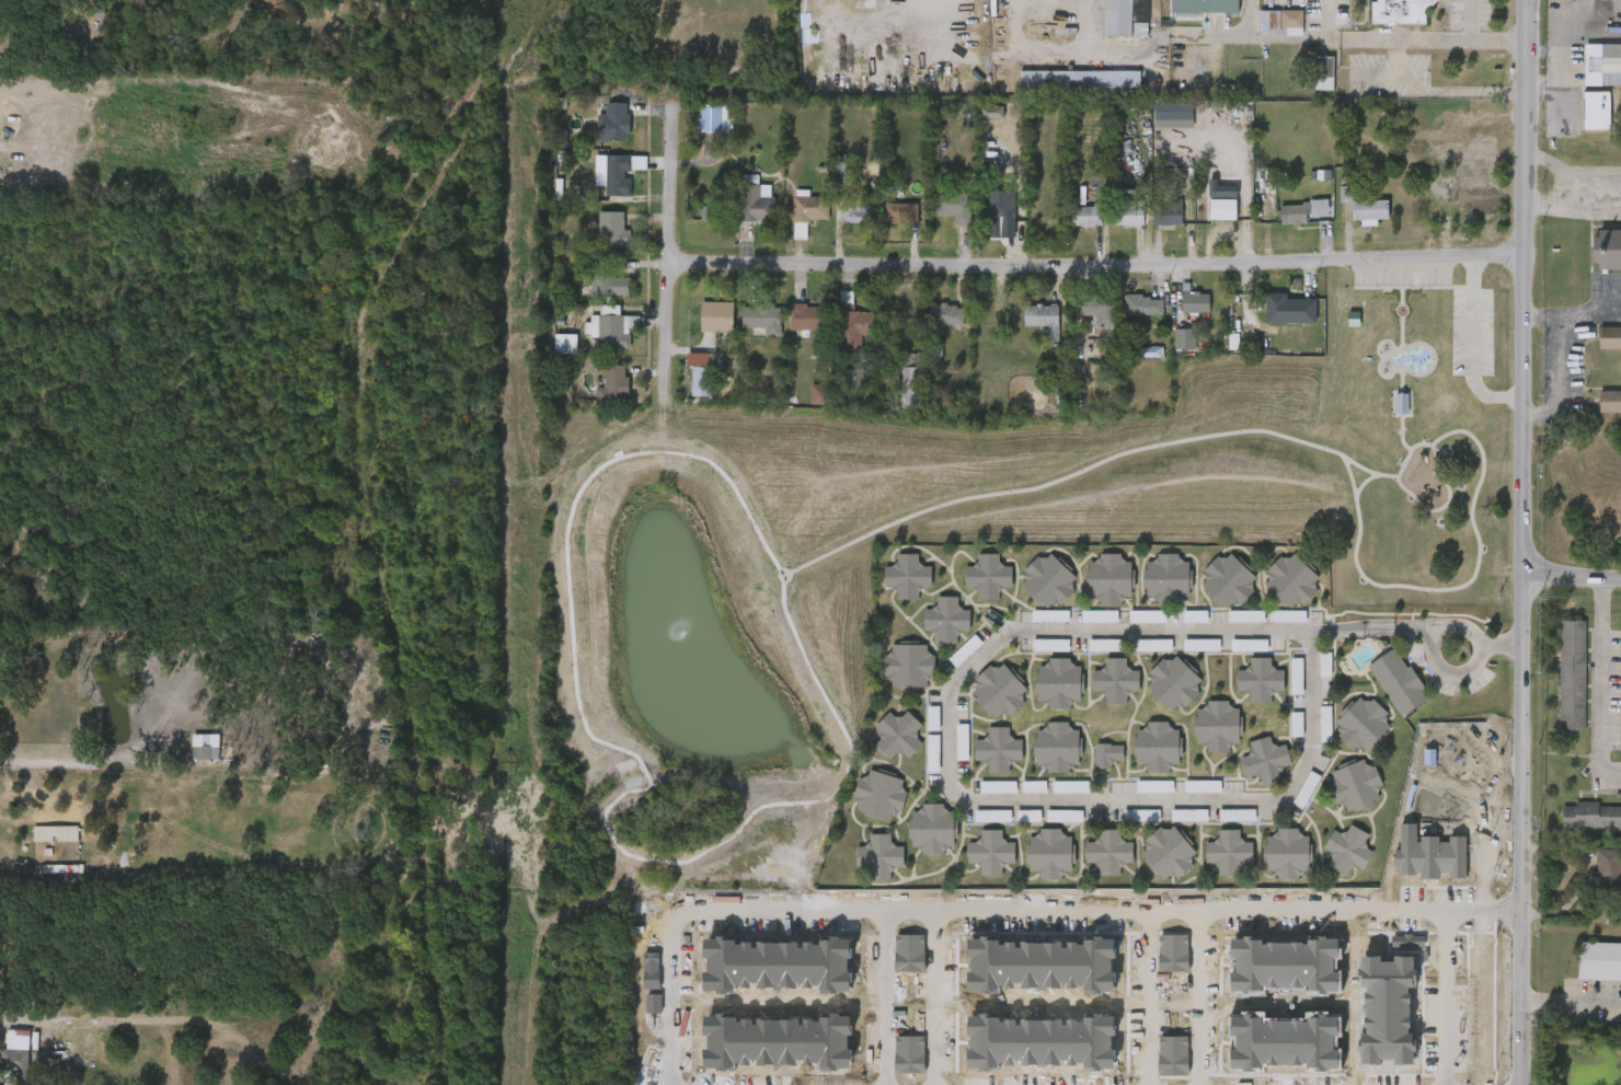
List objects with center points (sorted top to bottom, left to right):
building: (0, 8)
building: (276, 8)
building: (1199, 8)
building: (1398, 11)
building: (1290, 19)
building: (1122, 20)
building: (1268, 21)
road: (1088, 26)
road: (1369, 38)
road: (1543, 51)
road: (1563, 55)
building: (1610, 62)
building: (1324, 73)
building: (1080, 80)
road: (1543, 86)
road: (1442, 88)
building: (1596, 109)
building: (992, 113)
building: (1173, 115)
building: (715, 118)
building: (612, 123)
building: (617, 175)
building: (1321, 175)
building: (1221, 191)
building: (751, 201)
building: (954, 206)
building: (1364, 206)
building: (811, 208)
building: (1000, 208)
building: (1222, 208)
building: (859, 210)
building: (901, 212)
building: (1296, 212)
building: (705, 213)
building: (1128, 213)
building: (1166, 215)
building: (1085, 216)
building: (612, 228)
building: (1608, 249)
road: (667, 259)
road: (1095, 266)
building: (607, 279)
road: (1413, 287)
building: (1195, 301)
building: (1290, 304)
building: (1149, 305)
building: (1100, 310)
building: (946, 313)
road: (1542, 315)
building: (715, 316)
building: (762, 316)
building: (808, 316)
building: (1043, 318)
building: (613, 326)
building: (853, 330)
parking lot: (1471, 331)
building: (1609, 336)
building: (1185, 338)
building: (565, 344)
road: (1472, 348)
road: (1560, 348)
building: (700, 372)
building: (850, 379)
building: (613, 384)
building: (911, 385)
building: (819, 394)
building: (1061, 400)
building: (1610, 400)
building: (1401, 404)
road: (1401, 435)
road: (1424, 445)
road: (1085, 468)
road: (1363, 482)
road: (1425, 509)
road: (1522, 542)
park: (708, 574)
building: (907, 576)
building: (988, 576)
building: (1166, 577)
building: (1110, 578)
road: (1572, 578)
building: (1048, 580)
building: (1228, 580)
building: (1290, 580)
road: (1451, 588)
building: (1050, 616)
building: (1100, 616)
building: (1147, 616)
building: (1195, 616)
building: (1245, 616)
building: (1288, 616)
building: (946, 620)
road: (1462, 627)
road: (1413, 630)
road: (1353, 631)
building: (1107, 645)
building: (1153, 645)
building: (1202, 645)
building: (1250, 645)
building: (1050, 646)
road: (1504, 646)
building: (965, 650)
building: (908, 666)
road: (1450, 674)
building: (1573, 676)
building: (1297, 677)
building: (1261, 679)
building: (1115, 680)
building: (1173, 681)
building: (1399, 681)
road: (1599, 681)
building: (1059, 682)
building: (999, 691)
building: (933, 718)
building: (1325, 724)
building: (1363, 724)
building: (1216, 725)
building: (1297, 725)
building: (898, 734)
building: (962, 743)
building: (1057, 746)
building: (1158, 746)
building: (205, 747)
building: (998, 749)
building: (933, 751)
building: (1108, 754)
building: (1265, 760)
road: (87, 766)
building: (1355, 785)
building: (1203, 786)
building: (998, 787)
building: (1034, 787)
building: (1070, 787)
building: (1154, 787)
building: (880, 794)
road: (964, 795)
building: (992, 816)
building: (1028, 816)
building: (1065, 816)
building: (1141, 816)
building: (1188, 816)
building: (1237, 816)
building: (1590, 816)
building: (932, 828)
building: (56, 834)
building: (1347, 850)
building: (990, 852)
building: (1049, 852)
building: (1108, 852)
building: (1228, 852)
building: (1286, 852)
building: (1168, 853)
building: (878, 856)
building: (1608, 870)
road: (843, 902)
road: (1227, 905)
road: (1442, 957)
building: (1599, 962)
road: (880, 994)
road: (931, 994)
road: (1145, 995)
road: (1570, 1004)
building: (13, 1065)
building: (1329, 1084)

